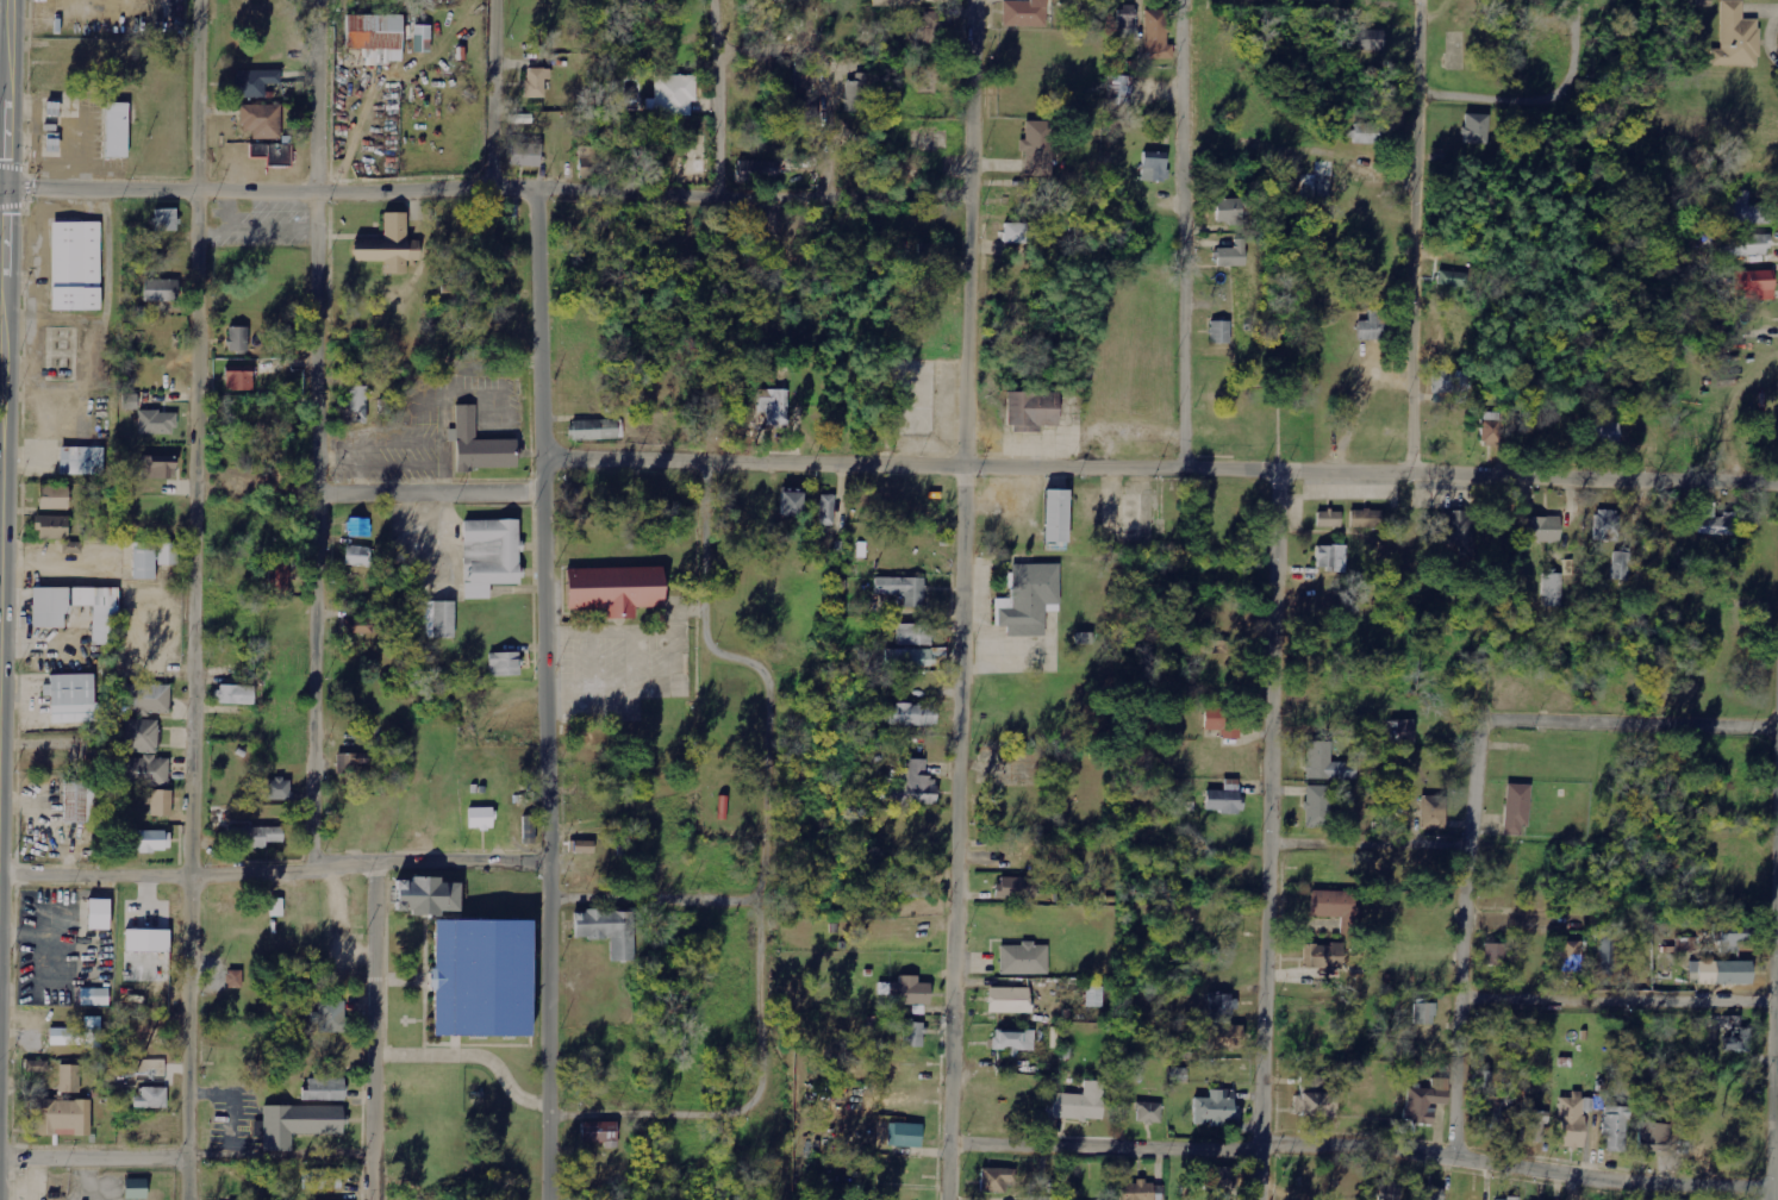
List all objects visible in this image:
building: (1024, 13)
building: (1127, 23)
building: (932, 29)
building: (1156, 35)
road: (1584, 37)
building: (1736, 38)
building: (1371, 39)
building: (372, 42)
road: (823, 70)
building: (536, 82)
building: (251, 86)
building: (1119, 89)
road: (492, 93)
building: (857, 94)
building: (672, 95)
road: (718, 98)
road: (1503, 100)
building: (801, 111)
building: (258, 123)
building: (1476, 129)
building: (116, 131)
building: (1371, 133)
building: (1040, 150)
building: (273, 154)
building: (525, 154)
building: (586, 160)
building: (1154, 165)
building: (756, 170)
road: (2, 182)
road: (488, 186)
building: (1228, 210)
building: (1748, 211)
building: (164, 219)
building: (760, 226)
building: (1013, 233)
road: (1180, 235)
road: (1415, 239)
building: (1748, 244)
building: (388, 248)
building: (929, 250)
building: (1233, 255)
road: (4, 263)
building: (73, 268)
building: (1452, 279)
building: (1755, 285)
building: (156, 290)
building: (1373, 326)
road: (426, 330)
building: (1221, 332)
building: (237, 339)
building: (238, 377)
building: (1451, 386)
building: (129, 401)
building: (357, 405)
building: (774, 406)
building: (1031, 411)
building: (156, 423)
building: (1492, 427)
building: (594, 430)
building: (1602, 435)
road: (318, 436)
building: (476, 443)
building: (80, 458)
building: (157, 467)
road: (1158, 468)
building: (243, 479)
road: (429, 495)
building: (54, 498)
building: (791, 504)
building: (826, 510)
building: (1056, 517)
building: (1329, 519)
building: (1366, 519)
building: (1715, 521)
building: (50, 525)
building: (1607, 525)
building: (360, 527)
building: (1543, 530)
building: (1456, 535)
building: (168, 554)
building: (357, 556)
building: (487, 558)
building: (1331, 558)
building: (143, 561)
building: (1622, 565)
building: (279, 576)
building: (613, 588)
building: (903, 589)
building: (1553, 590)
road: (191, 599)
road: (960, 599)
building: (1029, 599)
building: (46, 619)
building: (435, 621)
building: (366, 627)
building: (913, 635)
building: (909, 657)
building: (503, 664)
road: (545, 692)
building: (236, 694)
building: (152, 699)
building: (70, 700)
building: (912, 715)
building: (1223, 721)
road: (1651, 721)
building: (1403, 732)
building: (142, 736)
building: (353, 762)
building: (1327, 763)
building: (144, 771)
building: (915, 786)
building: (279, 789)
building: (1224, 799)
building: (79, 804)
building: (161, 804)
building: (1318, 807)
building: (1516, 810)
building: (1434, 812)
building: (480, 819)
building: (258, 836)
road: (1272, 837)
building: (152, 840)
road: (1371, 843)
building: (584, 846)
road: (766, 868)
road: (275, 874)
building: (911, 886)
building: (1016, 888)
building: (424, 893)
building: (1333, 906)
building: (276, 907)
building: (98, 914)
road: (1465, 919)
building: (605, 929)
building: (146, 942)
building: (1732, 943)
building: (1686, 944)
building: (1609, 950)
building: (1495, 955)
building: (1572, 956)
building: (1323, 957)
building: (1024, 960)
building: (1724, 974)
building: (479, 975)
building: (235, 979)
building: (909, 993)
building: (92, 996)
building: (1094, 996)
road: (1617, 999)
building: (1007, 1001)
building: (1223, 1005)
building: (1424, 1013)
building: (330, 1017)
road: (374, 1031)
road: (1773, 1031)
building: (93, 1032)
building: (1732, 1033)
building: (913, 1035)
building: (65, 1037)
building: (1224, 1037)
building: (1013, 1042)
building: (37, 1067)
building: (70, 1079)
building: (325, 1090)
building: (151, 1099)
building: (1315, 1099)
building: (1425, 1101)
building: (1080, 1104)
building: (1489, 1107)
building: (1216, 1110)
building: (1149, 1113)
building: (61, 1118)
building: (1572, 1120)
building: (295, 1121)
building: (1534, 1126)
building: (1615, 1130)
building: (598, 1132)
building: (904, 1136)
building: (1654, 1137)
road: (1358, 1145)
road: (187, 1162)
building: (1221, 1179)
building: (322, 1180)
building: (996, 1181)
building: (135, 1189)
building: (1137, 1190)
building: (1390, 1192)
building: (1431, 1193)
building: (1040, 1199)
building: (1508, 1199)

